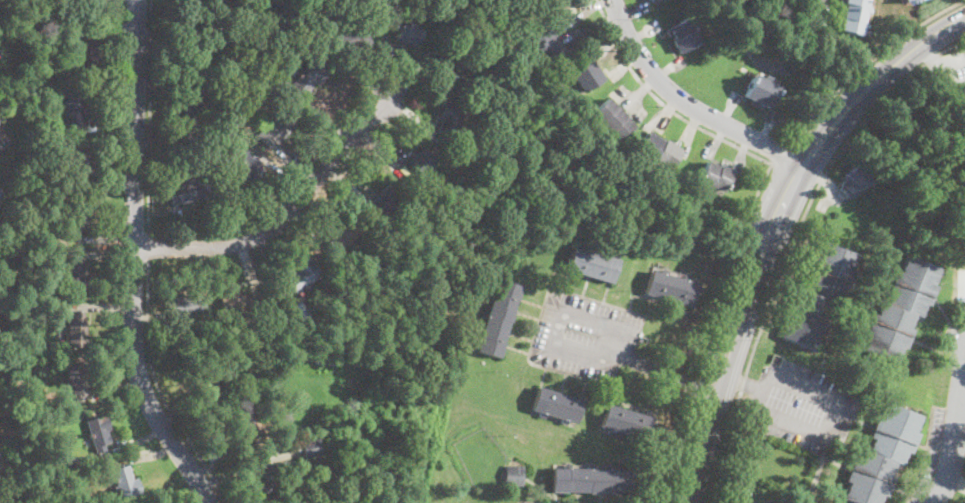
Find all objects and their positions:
building: (652, 0)
building: (533, 1)
building: (911, 1)
parking lot: (817, 6)
building: (389, 7)
building: (853, 15)
building: (408, 34)
building: (683, 35)
building: (352, 37)
building: (210, 38)
building: (540, 41)
building: (90, 45)
road: (926, 57)
road: (867, 61)
road: (951, 63)
building: (446, 66)
parking lot: (950, 67)
building: (588, 75)
building: (308, 77)
building: (553, 81)
road: (873, 83)
building: (760, 91)
building: (960, 98)
building: (14, 101)
road: (663, 103)
road: (686, 103)
building: (73, 107)
building: (189, 107)
building: (450, 118)
road: (150, 119)
building: (614, 120)
building: (277, 127)
building: (236, 147)
building: (659, 151)
road: (781, 154)
building: (419, 163)
building: (80, 164)
building: (246, 168)
building: (714, 176)
building: (853, 179)
building: (205, 188)
building: (185, 190)
building: (385, 200)
road: (283, 214)
building: (79, 215)
building: (343, 233)
road: (790, 240)
road: (148, 249)
road: (134, 260)
building: (592, 263)
road: (727, 264)
building: (303, 275)
building: (75, 276)
building: (670, 287)
parking lot: (961, 287)
building: (819, 295)
building: (237, 303)
building: (202, 305)
building: (186, 306)
building: (3, 308)
building: (902, 309)
building: (298, 312)
building: (497, 318)
road: (724, 328)
building: (77, 329)
road: (742, 332)
parking lot: (585, 336)
building: (10, 339)
road: (552, 339)
road: (678, 374)
building: (195, 378)
road: (689, 379)
building: (79, 380)
building: (206, 383)
road: (746, 384)
road: (159, 390)
building: (557, 405)
parking lot: (801, 405)
building: (244, 423)
building: (625, 423)
building: (100, 432)
road: (821, 437)
road: (953, 441)
road: (671, 445)
building: (313, 448)
parking lot: (944, 448)
building: (882, 456)
road: (926, 456)
building: (52, 459)
building: (71, 465)
building: (514, 475)
building: (0, 478)
building: (589, 480)
road: (956, 480)
building: (126, 483)
building: (264, 483)
building: (527, 502)

